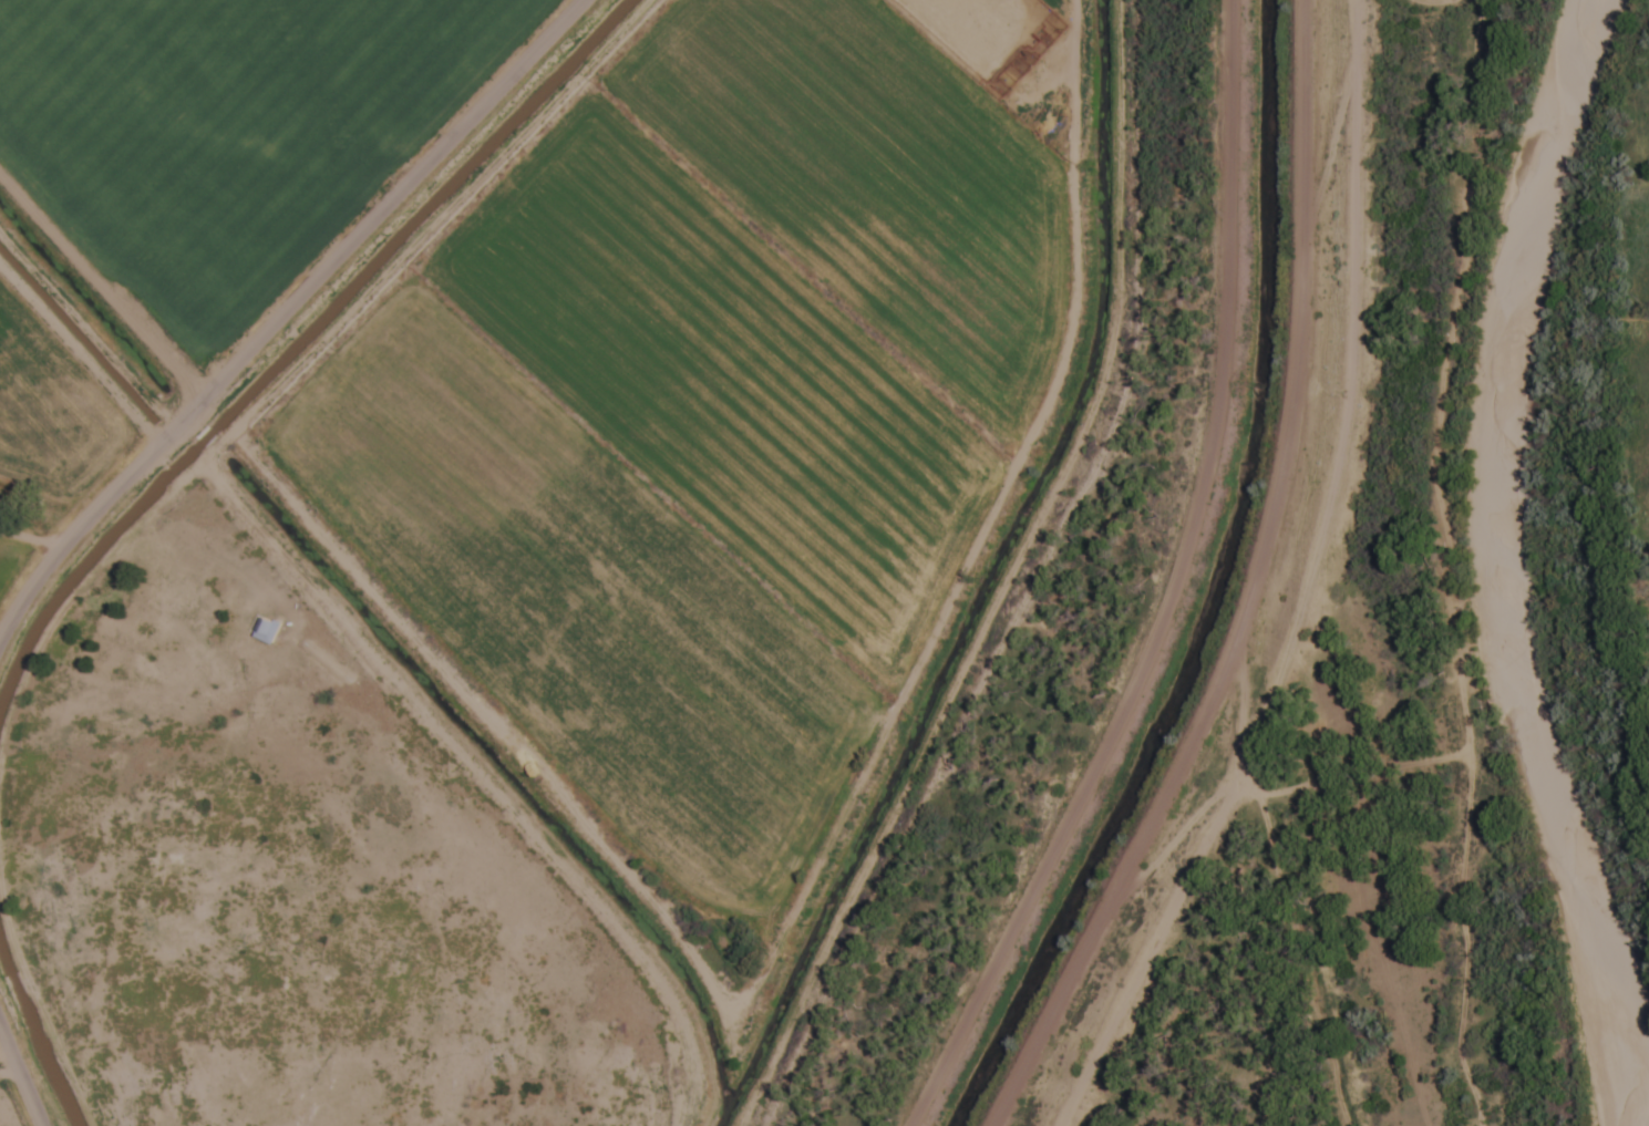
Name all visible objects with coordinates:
road: (431, 167)
road: (102, 290)
road: (134, 482)
river: (1490, 564)
road: (1268, 588)
road: (1167, 591)
building: (266, 631)
road: (21, 1075)

